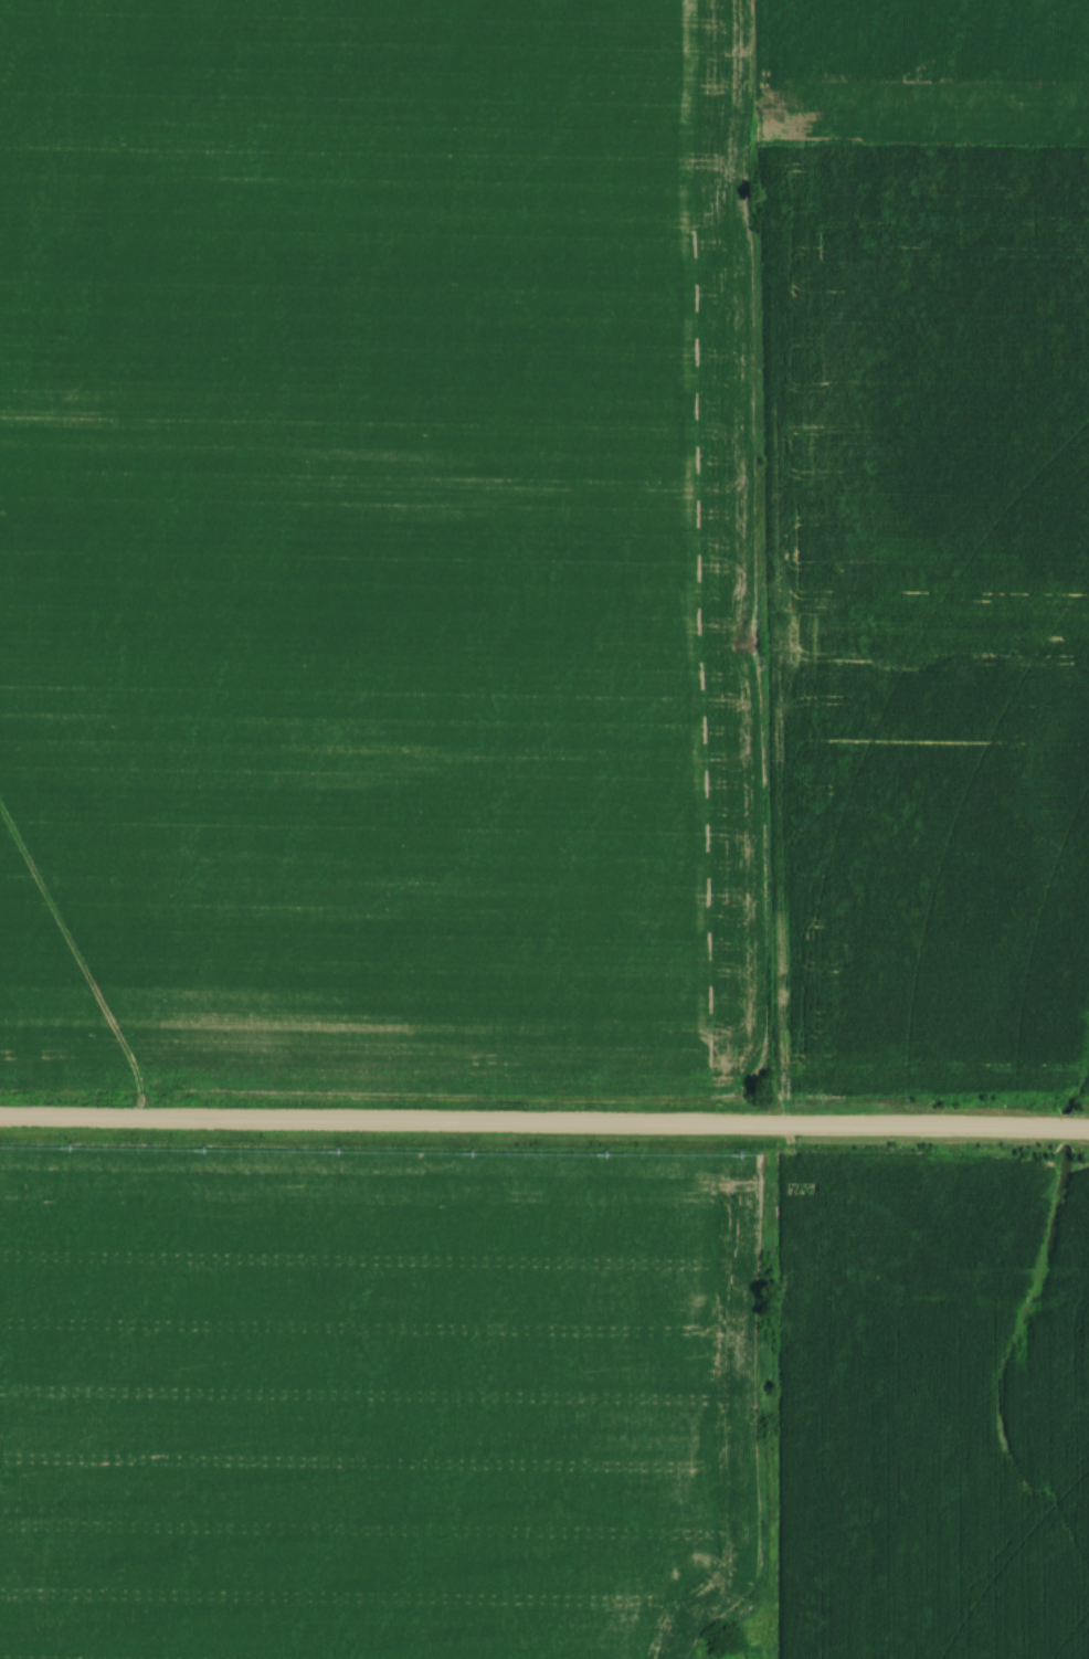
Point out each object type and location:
road: (544, 1130)
road: (444, 1306)

